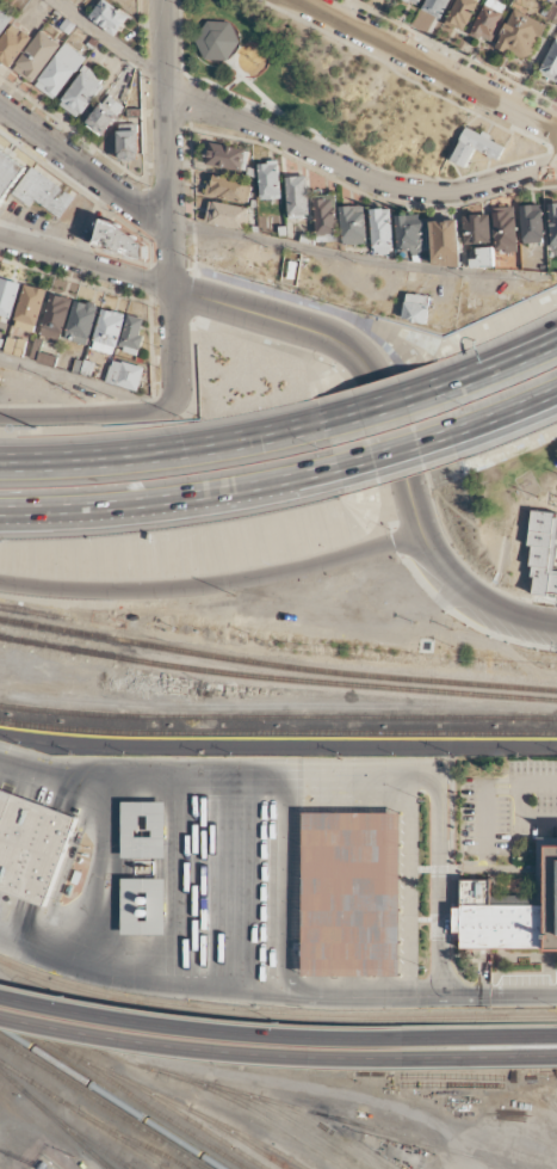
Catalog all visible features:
building: (414, 1)
building: (435, 7)
building: (460, 13)
building: (109, 17)
building: (5, 19)
building: (488, 19)
building: (520, 35)
building: (217, 39)
road: (110, 41)
building: (12, 44)
building: (36, 56)
building: (550, 62)
road: (427, 64)
building: (58, 72)
building: (81, 93)
road: (169, 110)
building: (105, 116)
building: (129, 146)
building: (476, 146)
building: (228, 155)
road: (83, 167)
building: (8, 172)
road: (359, 173)
building: (268, 179)
building: (228, 186)
building: (43, 192)
building: (297, 196)
building: (227, 214)
building: (326, 217)
building: (532, 222)
building: (353, 224)
building: (553, 224)
building: (476, 227)
building: (505, 228)
building: (382, 229)
building: (410, 232)
building: (119, 239)
building: (445, 241)
road: (173, 256)
road: (364, 256)
building: (483, 256)
building: (7, 295)
road: (197, 297)
building: (29, 307)
building: (416, 307)
building: (55, 315)
building: (81, 321)
building: (107, 330)
building: (131, 334)
road: (174, 347)
road: (499, 350)
road: (500, 363)
building: (83, 367)
building: (125, 374)
road: (73, 379)
road: (380, 396)
road: (383, 405)
road: (503, 412)
road: (86, 416)
road: (266, 429)
road: (506, 430)
road: (162, 450)
road: (394, 451)
road: (398, 467)
road: (169, 498)
road: (219, 507)
road: (7, 510)
road: (426, 540)
building: (541, 556)
road: (213, 584)
railway: (33, 611)
railway: (277, 666)
railway: (277, 677)
road: (278, 706)
railway: (278, 715)
railway: (278, 733)
railway: (278, 738)
road: (502, 790)
road: (520, 801)
road: (484, 802)
road: (110, 820)
building: (143, 830)
building: (32, 843)
building: (351, 894)
building: (143, 907)
building: (512, 913)
road: (42, 947)
road: (320, 991)
railway: (274, 1017)
railway: (32, 1028)
road: (199, 1029)
railway: (10, 1032)
road: (479, 1036)
road: (199, 1051)
road: (479, 1058)
railway: (175, 1075)
railway: (551, 1101)
railway: (124, 1102)
railway: (105, 1103)
railway: (168, 1103)
railway: (155, 1109)
railway: (279, 1110)
railway: (85, 1114)
railway: (56, 1119)
railway: (314, 1120)
railway: (215, 1121)
railway: (404, 1137)
railway: (134, 1139)
railway: (264, 1143)
railway: (94, 1144)
railway: (150, 1144)
railway: (178, 1162)
railway: (110, 1165)

